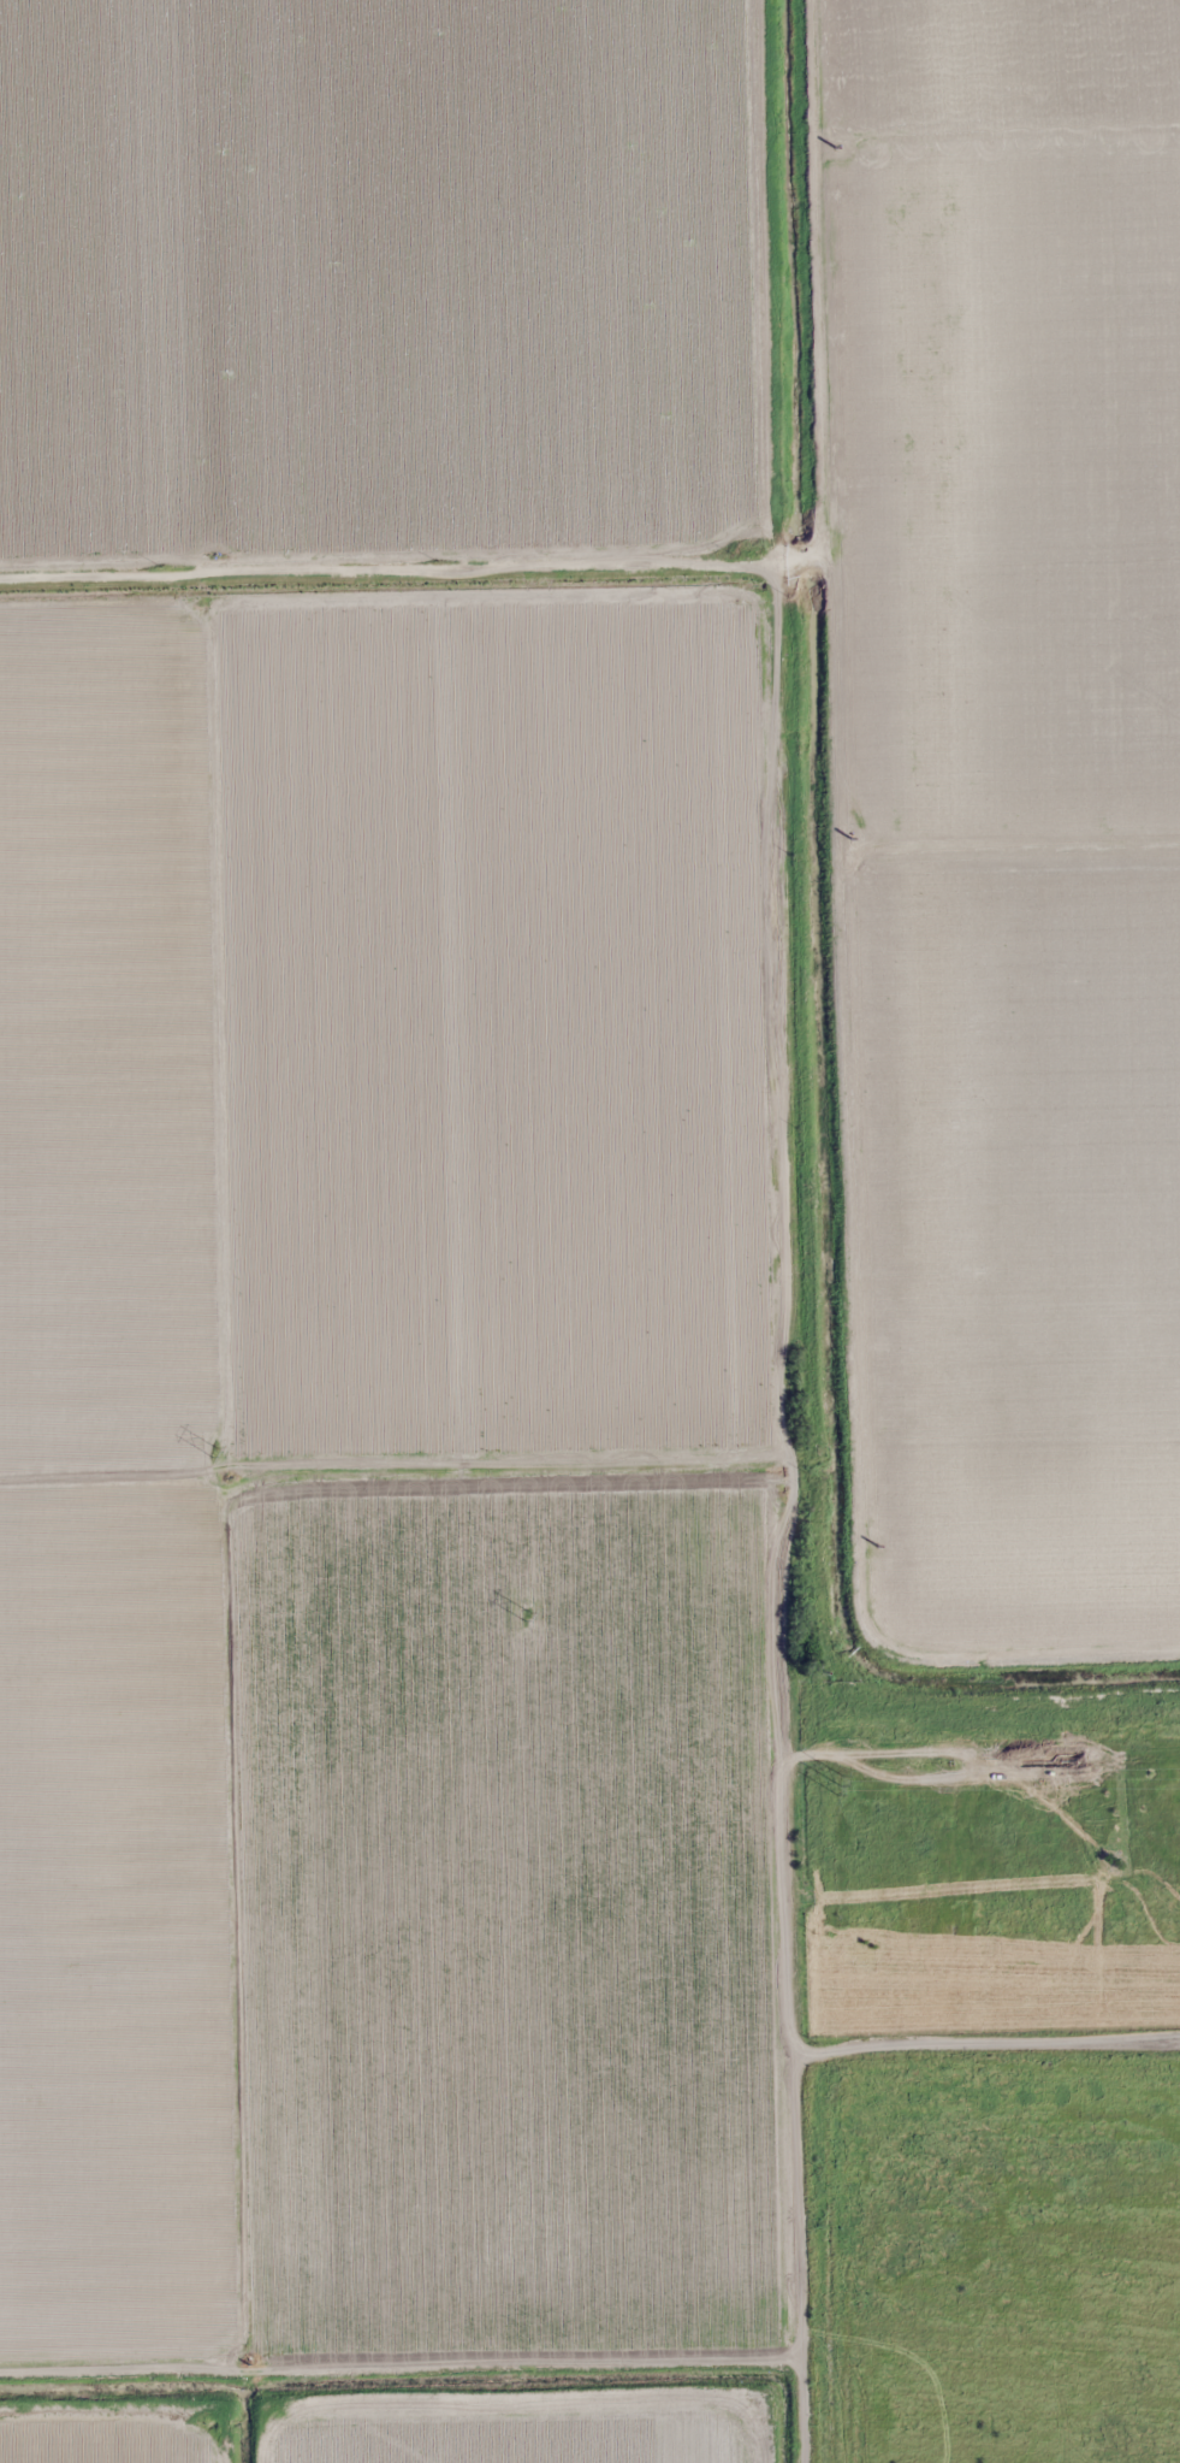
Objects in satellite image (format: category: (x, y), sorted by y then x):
road: (876, 844)
road: (778, 927)
power tower: (213, 1451)
power tower: (524, 1614)
power tower: (837, 1783)
road: (1055, 2039)
road: (858, 2046)
road: (793, 2256)

